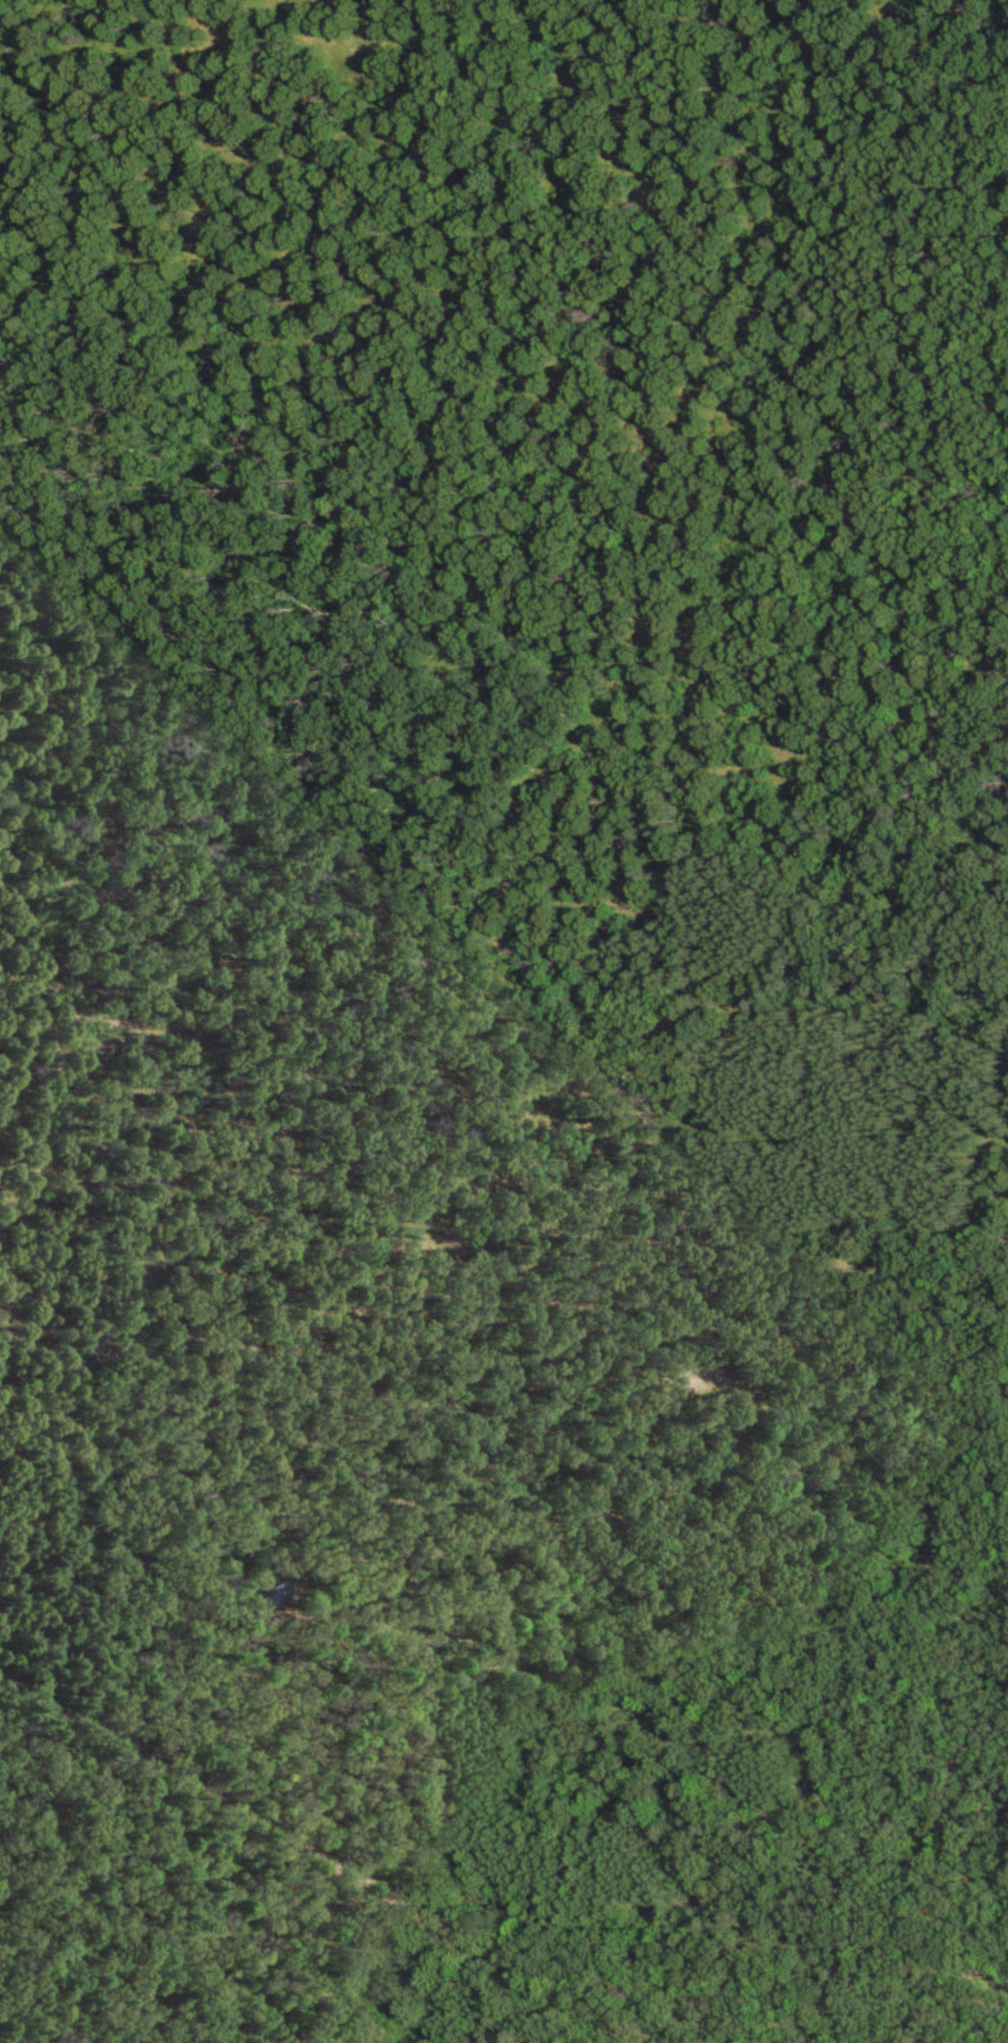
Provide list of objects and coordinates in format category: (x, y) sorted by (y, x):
road: (356, 1872)

